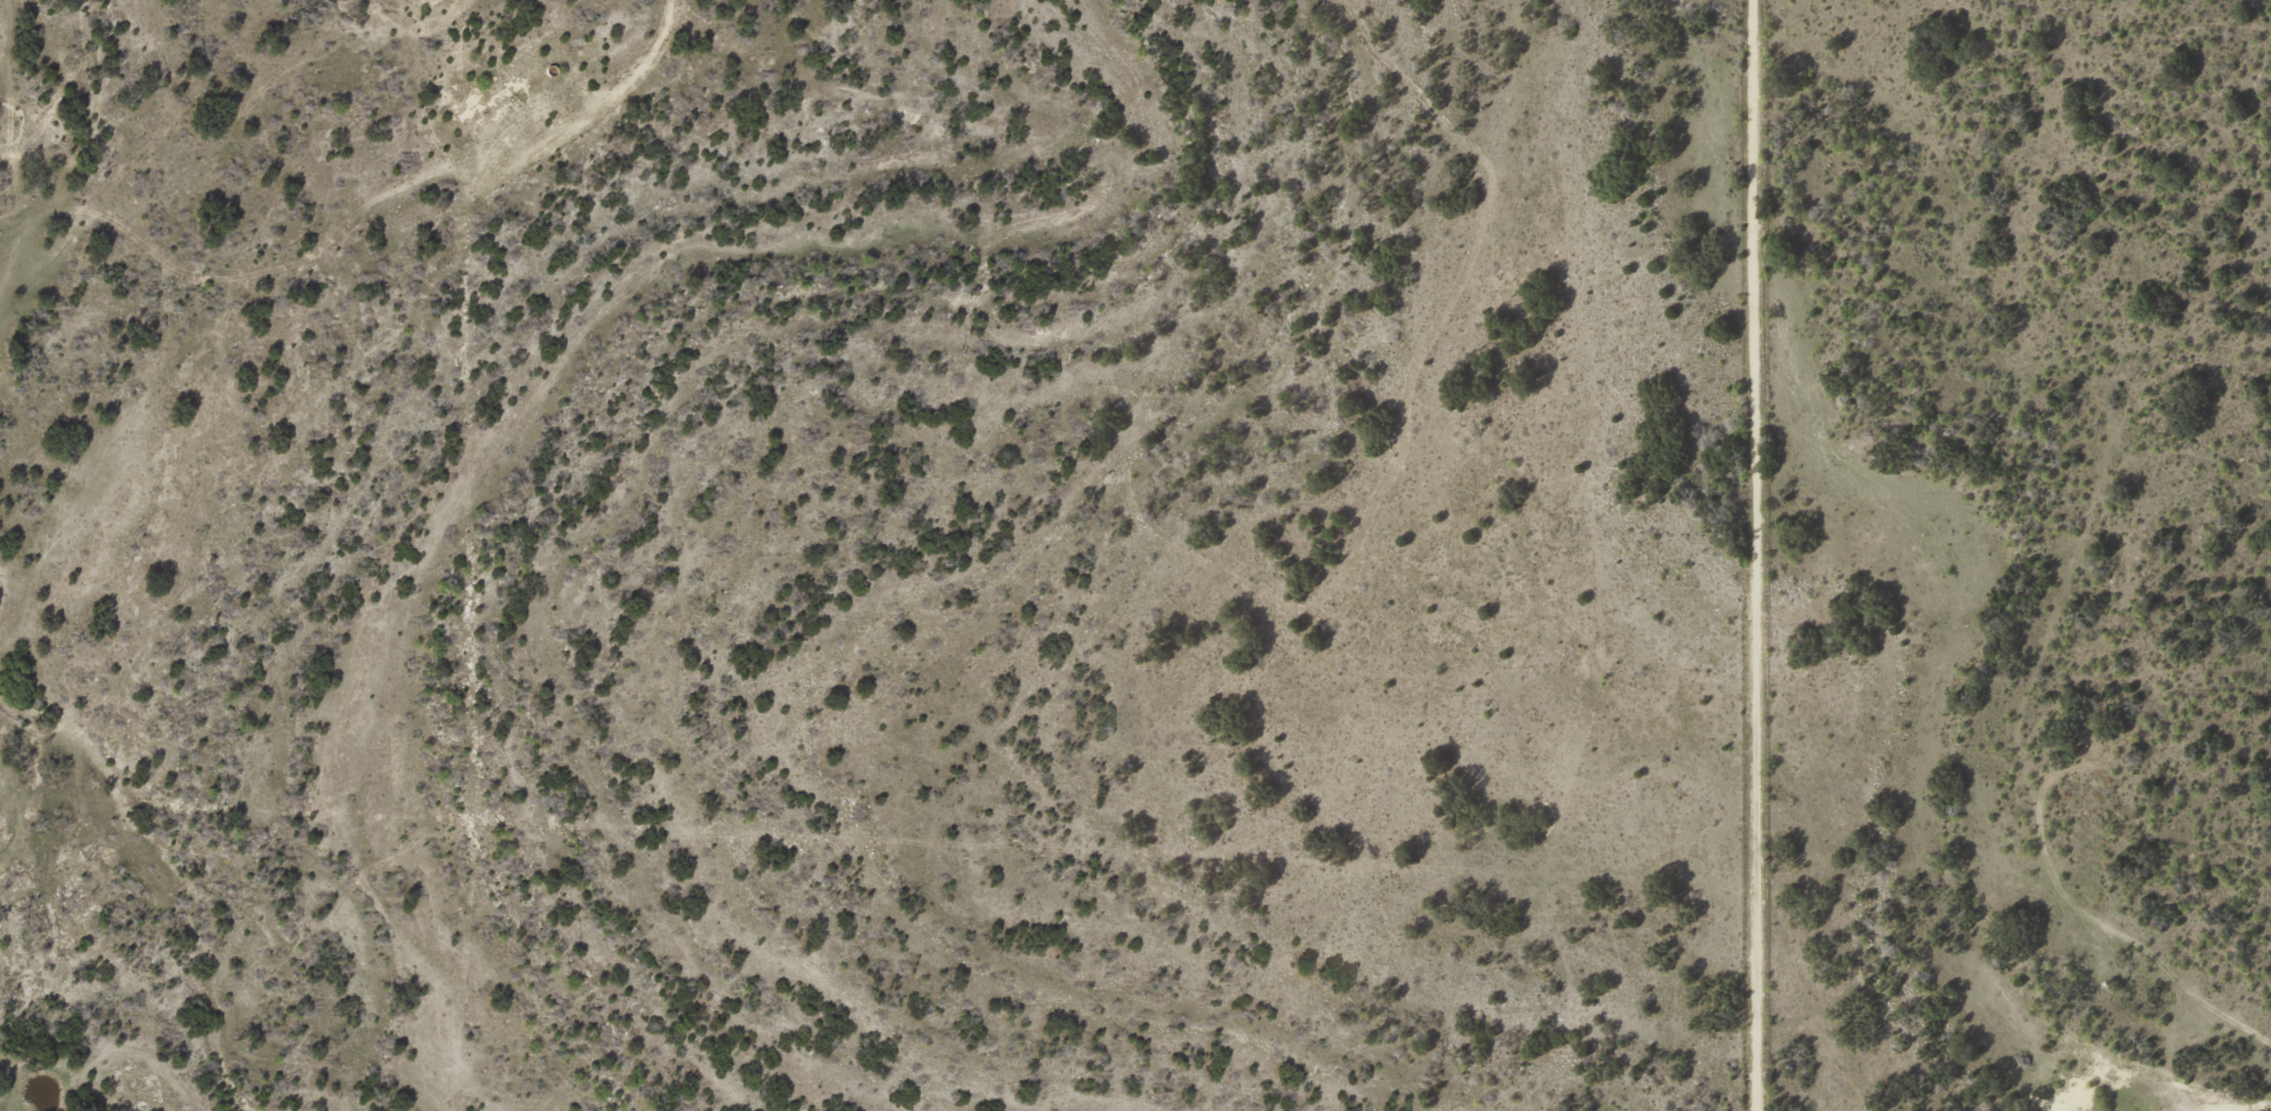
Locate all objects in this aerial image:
road: (1719, 555)

